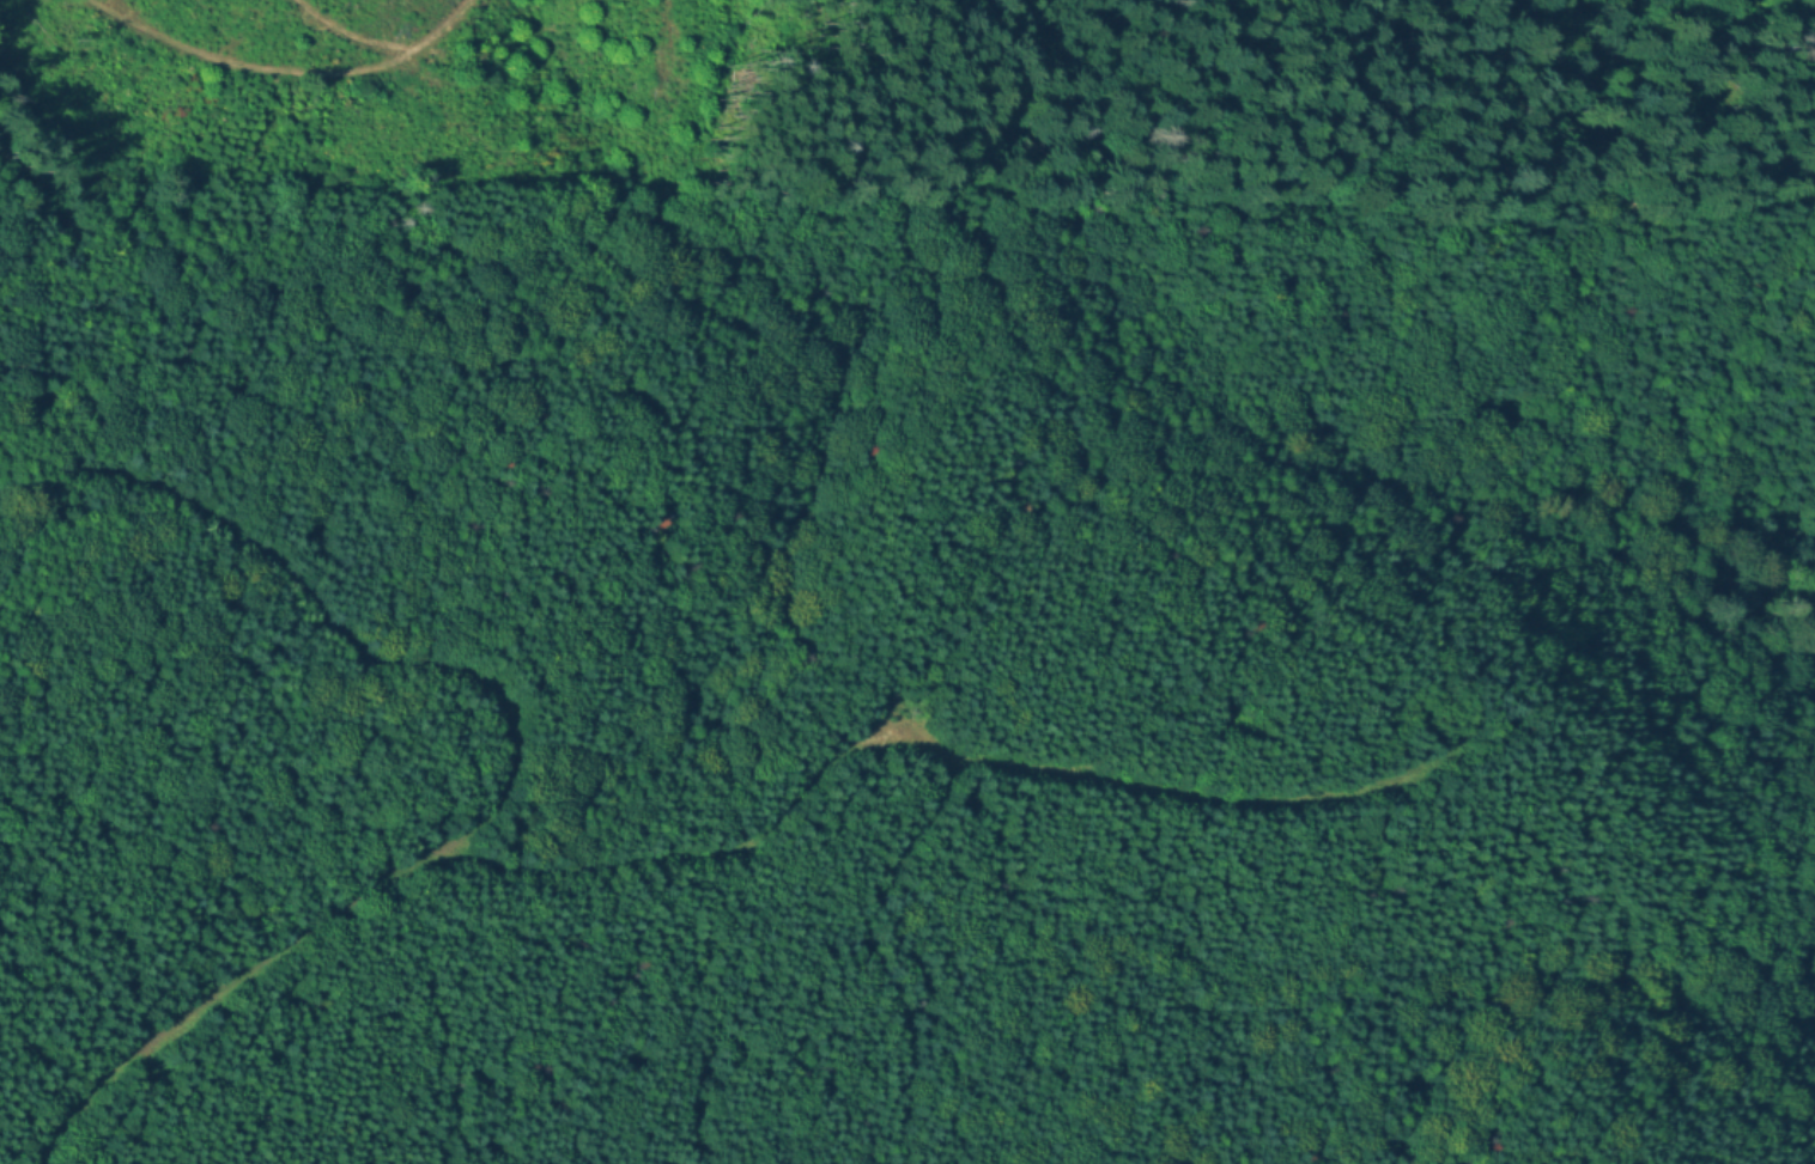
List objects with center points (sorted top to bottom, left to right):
road: (324, 626)
road: (723, 854)

